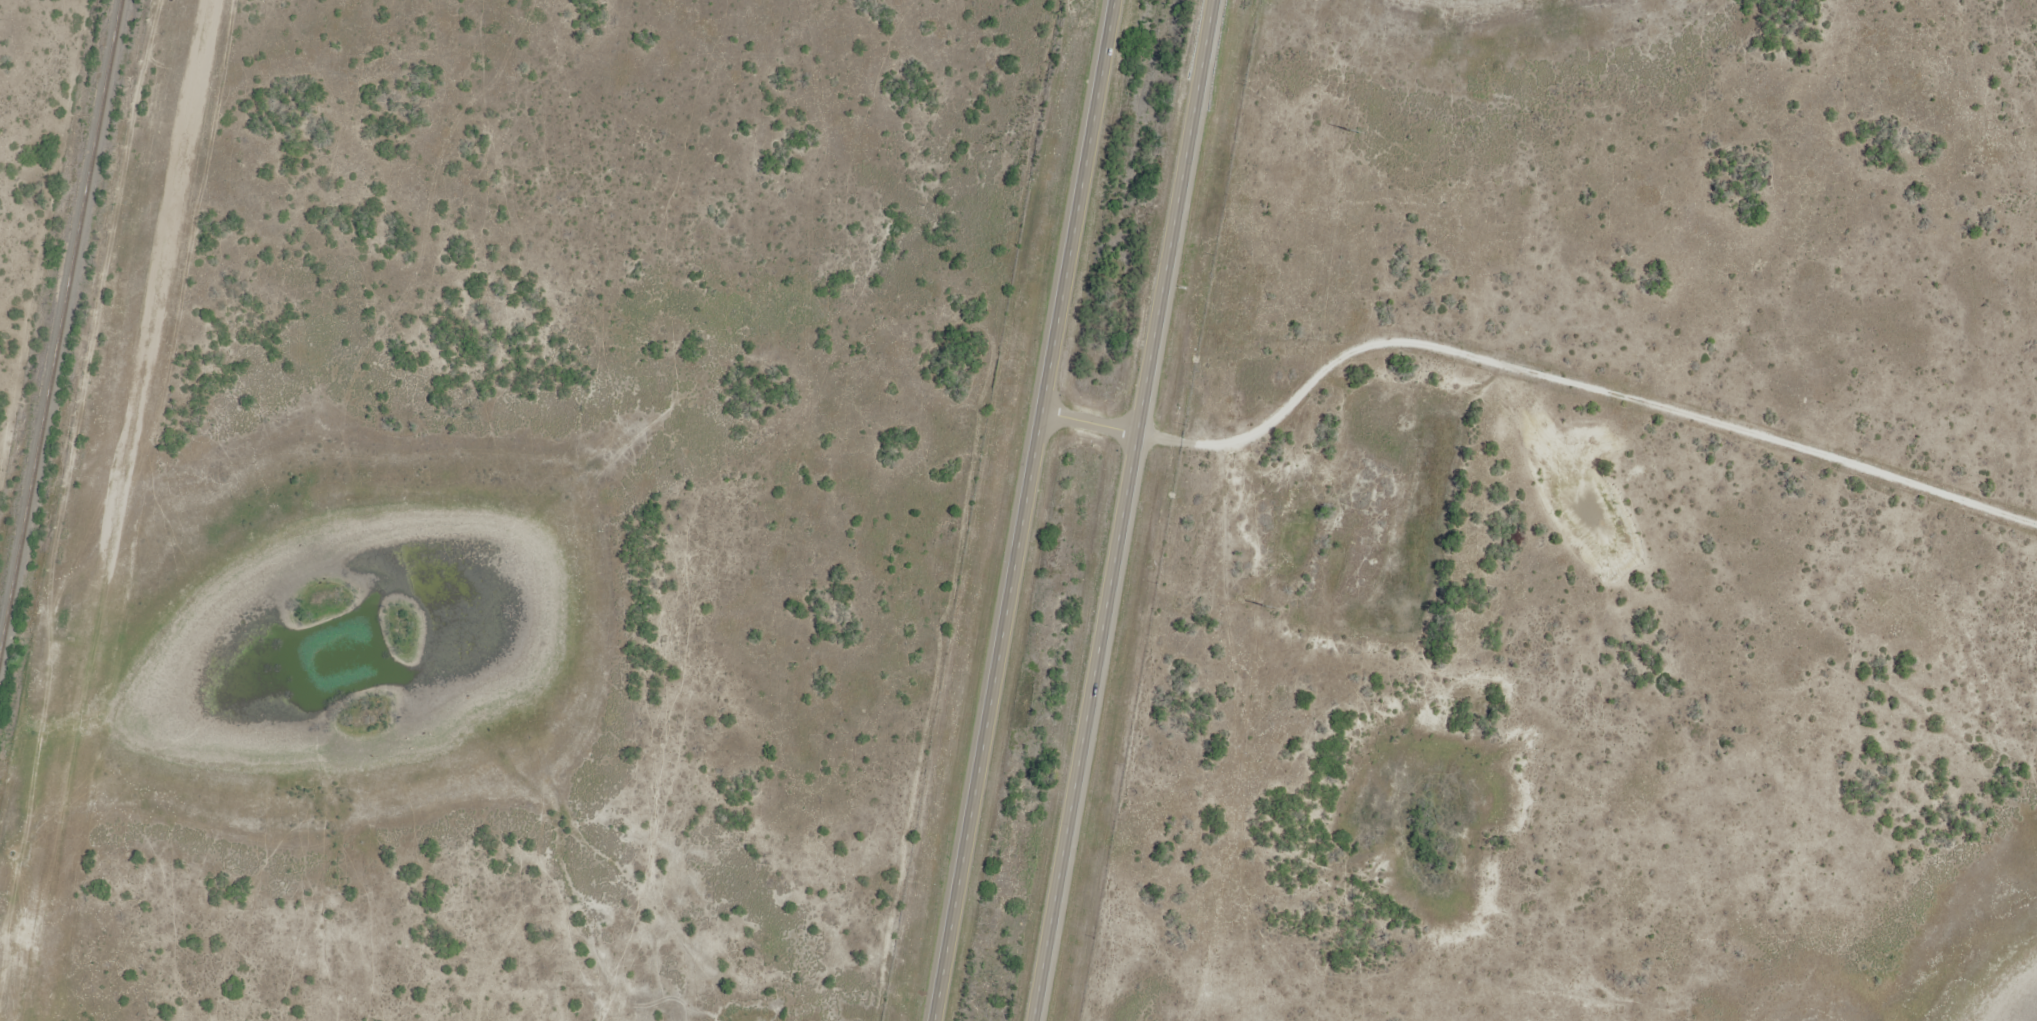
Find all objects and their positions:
power tower: (1352, 131)
railway: (60, 326)
road: (1528, 374)
road: (1029, 510)
road: (1126, 510)
power tower: (1268, 606)

